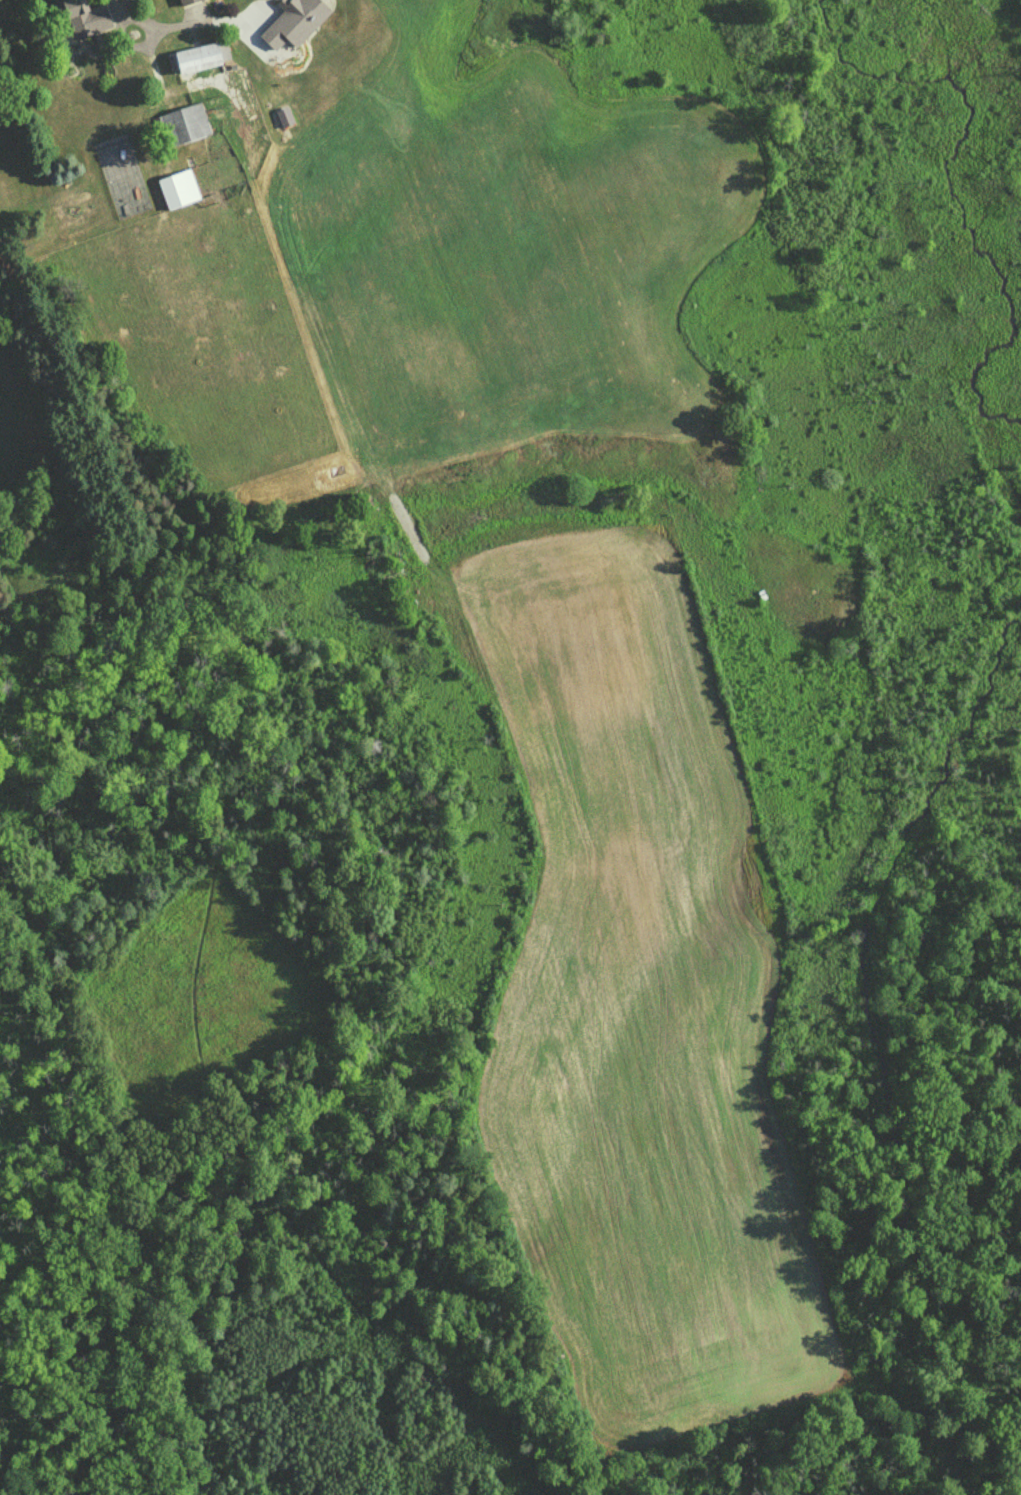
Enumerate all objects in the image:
building: (184, 1)
building: (83, 17)
road: (174, 25)
building: (197, 56)
building: (183, 123)
building: (176, 188)

